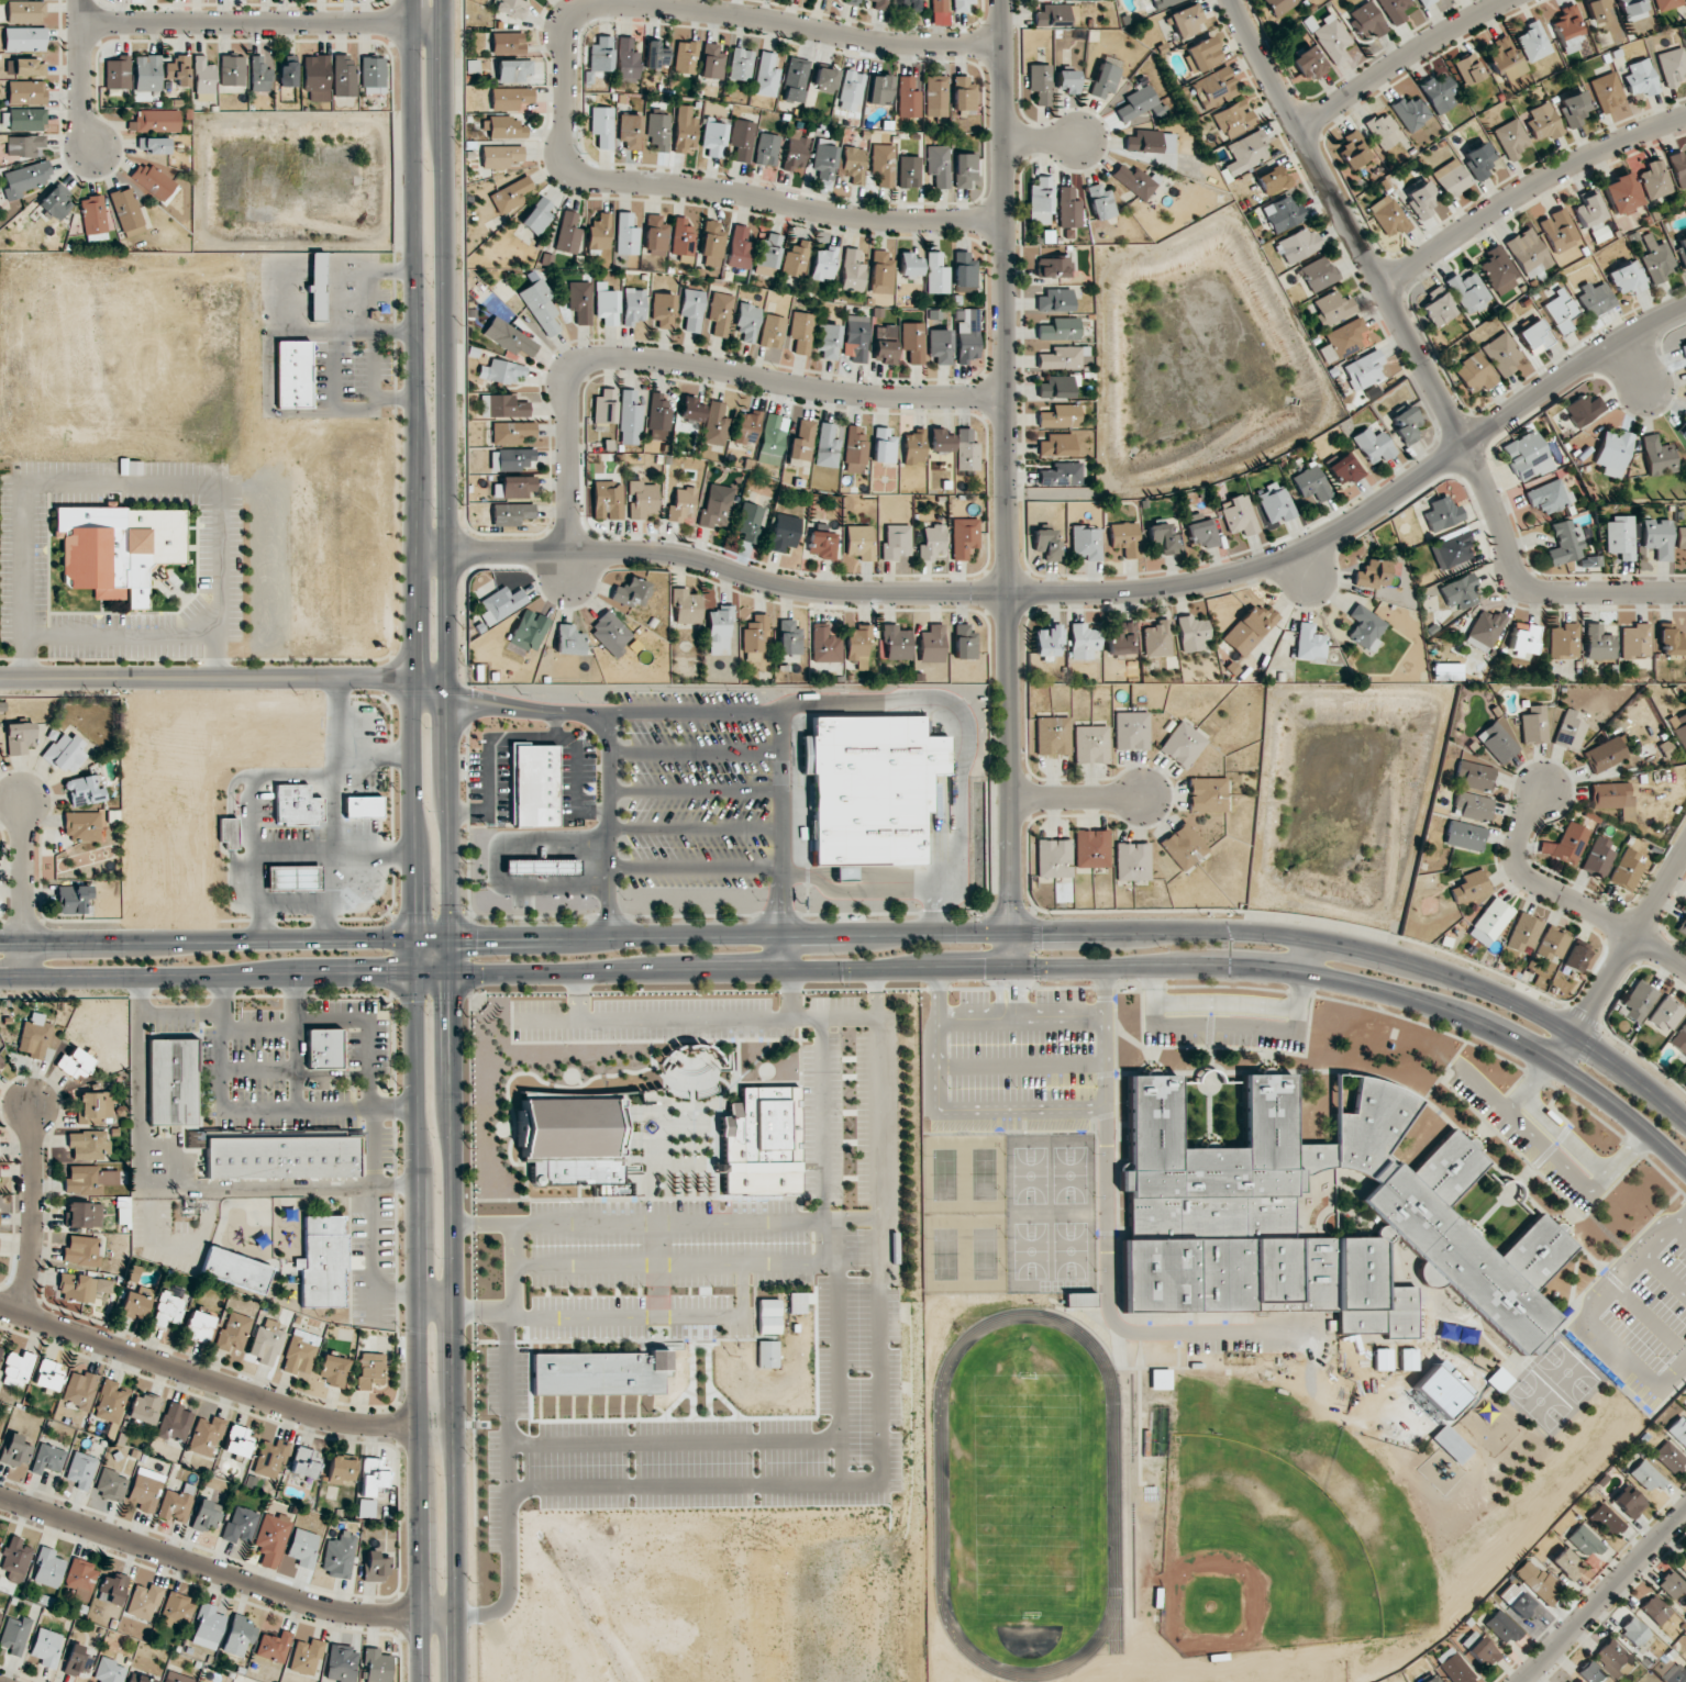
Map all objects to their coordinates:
building: (851, 2)
building: (1426, 2)
building: (1163, 3)
building: (880, 4)
building: (962, 4)
building: (1666, 4)
building: (908, 5)
building: (939, 5)
building: (1278, 5)
building: (511, 7)
building: (1395, 9)
building: (1597, 10)
building: (1632, 10)
building: (25, 11)
building: (1056, 15)
building: (1185, 20)
building: (1367, 20)
road: (262, 23)
building: (1566, 27)
building: (25, 38)
building: (1332, 38)
building: (1533, 42)
building: (508, 43)
building: (600, 54)
building: (1202, 54)
building: (655, 55)
building: (686, 57)
building: (1505, 58)
building: (628, 60)
building: (711, 62)
road: (1405, 63)
building: (1309, 64)
building: (741, 65)
building: (1672, 66)
building: (29, 67)
building: (178, 69)
building: (1468, 69)
building: (232, 70)
building: (512, 70)
building: (118, 71)
building: (288, 71)
building: (147, 73)
building: (259, 75)
building: (343, 75)
building: (373, 75)
building: (766, 76)
building: (315, 77)
road: (80, 78)
building: (1641, 78)
building: (203, 79)
building: (824, 79)
building: (796, 80)
building: (1067, 80)
building: (1103, 80)
building: (1040, 83)
building: (1216, 88)
building: (851, 90)
building: (879, 90)
building: (1607, 91)
building: (26, 92)
road: (567, 93)
building: (1439, 93)
building: (935, 96)
building: (510, 98)
building: (908, 98)
building: (1139, 103)
building: (1574, 109)
building: (1411, 112)
building: (1233, 118)
building: (26, 119)
building: (155, 121)
building: (1542, 122)
building: (602, 125)
building: (503, 127)
building: (685, 129)
building: (658, 131)
building: (1382, 131)
building: (631, 132)
building: (714, 138)
building: (742, 140)
building: (1510, 140)
road: (1042, 141)
building: (1143, 141)
building: (24, 145)
building: (153, 145)
building: (767, 149)
building: (1353, 149)
building: (796, 151)
building: (1246, 152)
building: (500, 156)
building: (825, 159)
building: (1478, 159)
building: (883, 164)
building: (854, 165)
building: (938, 165)
building: (1678, 168)
building: (964, 170)
building: (909, 171)
building: (1451, 178)
building: (25, 179)
building: (1272, 179)
building: (1654, 179)
building: (154, 181)
building: (1134, 181)
road: (1528, 190)
building: (1621, 193)
building: (510, 194)
building: (1040, 200)
building: (1421, 200)
building: (56, 201)
building: (1100, 201)
building: (1068, 208)
building: (127, 212)
building: (93, 214)
building: (1284, 214)
building: (537, 215)
building: (1387, 216)
building: (1590, 216)
building: (1557, 230)
building: (599, 232)
building: (567, 233)
building: (626, 234)
building: (655, 235)
building: (683, 237)
building: (712, 244)
building: (1298, 245)
building: (739, 248)
building: (1682, 249)
building: (769, 253)
building: (1528, 253)
building: (796, 259)
building: (1656, 260)
building: (824, 264)
building: (909, 266)
building: (1053, 267)
building: (852, 270)
building: (964, 270)
building: (1498, 270)
building: (880, 272)
building: (936, 274)
building: (1319, 274)
building: (1626, 278)
building: (317, 286)
building: (1468, 291)
building: (1595, 299)
building: (1054, 300)
building: (580, 301)
building: (607, 304)
building: (541, 305)
building: (633, 305)
building: (1437, 307)
building: (1332, 308)
building: (691, 309)
building: (662, 311)
building: (1562, 311)
building: (720, 313)
building: (747, 321)
building: (1058, 330)
building: (773, 331)
building: (801, 332)
building: (967, 335)
building: (1534, 336)
building: (509, 337)
building: (856, 337)
building: (1345, 337)
building: (828, 341)
building: (913, 342)
building: (885, 344)
building: (940, 346)
building: (1684, 349)
building: (1501, 354)
building: (1061, 357)
road: (1423, 363)
road: (684, 364)
road: (1635, 364)
building: (1364, 370)
building: (502, 371)
building: (292, 374)
building: (1474, 374)
building: (1057, 386)
building: (504, 406)
building: (604, 406)
building: (690, 410)
building: (1583, 410)
building: (1060, 416)
building: (658, 417)
building: (630, 419)
building: (714, 424)
building: (1407, 425)
building: (746, 426)
building: (1683, 430)
building: (512, 432)
building: (772, 439)
building: (941, 441)
building: (801, 442)
building: (1056, 445)
building: (1373, 445)
building: (827, 446)
building: (884, 446)
building: (913, 447)
building: (855, 450)
building: (966, 450)
building: (1612, 453)
building: (1527, 456)
building: (1657, 456)
building: (512, 459)
road: (415, 469)
building: (1345, 470)
building: (1061, 475)
road: (121, 483)
road: (1008, 483)
building: (1310, 483)
road: (446, 487)
building: (513, 487)
building: (1550, 495)
building: (608, 500)
building: (642, 500)
building: (1276, 503)
building: (681, 505)
building: (714, 510)
building: (511, 513)
building: (1442, 514)
building: (1239, 515)
building: (750, 522)
building: (1201, 531)
building: (784, 532)
building: (964, 537)
building: (1162, 537)
building: (1620, 537)
building: (1124, 538)
building: (1681, 538)
building: (896, 541)
building: (858, 542)
building: (932, 543)
building: (1045, 543)
building: (1086, 543)
building: (1565, 543)
building: (822, 544)
building: (118, 548)
building: (1451, 548)
building: (1594, 561)
road: (1301, 572)
building: (1461, 591)
building: (631, 592)
road: (1086, 592)
building: (500, 604)
building: (686, 606)
building: (1365, 627)
building: (1250, 630)
building: (1485, 630)
building: (529, 631)
building: (719, 631)
building: (611, 633)
building: (1191, 633)
building: (755, 634)
road: (118, 636)
building: (789, 637)
building: (1121, 638)
building: (1156, 638)
building: (1523, 638)
building: (568, 641)
building: (1046, 641)
building: (1083, 641)
building: (1564, 641)
building: (1670, 641)
building: (964, 642)
building: (1635, 642)
building: (858, 643)
building: (896, 643)
building: (1598, 643)
building: (824, 644)
building: (931, 644)
building: (1309, 644)
building: (1477, 668)
road: (223, 678)
road: (878, 702)
building: (1533, 724)
road: (555, 726)
building: (1569, 729)
building: (1679, 729)
building: (1131, 731)
building: (1052, 736)
building: (19, 737)
road: (542, 739)
building: (1497, 742)
building: (1090, 744)
building: (1182, 745)
building: (65, 753)
road: (694, 753)
building: (1605, 754)
road: (375, 756)
building: (1473, 776)
building: (534, 786)
building: (870, 788)
building: (84, 791)
road: (695, 792)
building: (1207, 794)
building: (1612, 797)
road: (1077, 798)
building: (297, 805)
building: (1473, 805)
building: (363, 806)
road: (332, 809)
road: (470, 811)
road: (230, 820)
road: (254, 821)
road: (780, 823)
road: (609, 825)
building: (86, 826)
road: (695, 828)
building: (229, 833)
building: (1464, 835)
building: (1567, 844)
building: (1184, 846)
road: (292, 848)
building: (1091, 848)
road: (373, 856)
building: (1597, 857)
building: (1054, 858)
building: (1132, 861)
road: (499, 866)
building: (541, 866)
road: (695, 867)
building: (1626, 870)
building: (845, 873)
road: (862, 873)
building: (293, 877)
building: (1471, 885)
road: (24, 889)
building: (74, 899)
road: (1567, 899)
road: (291, 903)
traffic signals: (415, 909)
road: (933, 912)
building: (1493, 918)
building: (1682, 926)
building: (1523, 933)
road: (1075, 935)
traffic signals: (478, 938)
road: (207, 940)
building: (1552, 943)
road: (1630, 945)
road: (787, 951)
building: (1575, 955)
road: (1309, 957)
road: (1009, 967)
road: (1096, 967)
traffic signals: (381, 974)
road: (224, 976)
road: (789, 993)
road: (577, 996)
building: (1637, 1001)
road: (1228, 1002)
traffic signals: (451, 1005)
road: (179, 1014)
building: (1666, 1014)
road: (1020, 1016)
road: (696, 1018)
road: (1227, 1025)
road: (257, 1029)
building: (34, 1036)
building: (1679, 1039)
road: (295, 1041)
parking lot: (1027, 1041)
road: (1562, 1048)
building: (323, 1049)
building: (1, 1061)
building: (76, 1062)
road: (1021, 1063)
road: (258, 1069)
road: (332, 1074)
building: (173, 1081)
road: (1530, 1084)
road: (1483, 1085)
building: (95, 1106)
road: (252, 1107)
road: (950, 1109)
road: (878, 1125)
road: (370, 1134)
road: (1564, 1135)
building: (574, 1143)
building: (762, 1143)
building: (88, 1144)
building: (277, 1154)
road: (175, 1162)
park: (945, 1174)
park: (984, 1174)
park: (1069, 1174)
park: (1030, 1176)
road: (1577, 1179)
building: (88, 1180)
road: (170, 1191)
road: (32, 1207)
building: (84, 1214)
building: (1313, 1217)
road: (666, 1221)
road: (1681, 1232)
road: (1665, 1236)
road: (1105, 1241)
building: (81, 1250)
park: (1071, 1250)
road: (180, 1251)
park: (1031, 1251)
park: (945, 1254)
park: (984, 1254)
road: (1623, 1257)
building: (322, 1261)
road: (789, 1263)
road: (657, 1269)
building: (235, 1270)
road: (1665, 1276)
building: (76, 1288)
road: (1611, 1291)
road: (395, 1295)
road: (435, 1295)
building: (799, 1302)
building: (136, 1303)
building: (167, 1310)
road: (418, 1311)
road: (482, 1312)
building: (768, 1316)
road: (654, 1317)
road: (1646, 1317)
building: (199, 1326)
road: (512, 1326)
road: (454, 1327)
building: (234, 1333)
building: (266, 1344)
building: (0, 1350)
building: (300, 1352)
building: (767, 1354)
building: (1382, 1359)
building: (1408, 1359)
road: (1637, 1366)
building: (18, 1369)
building: (370, 1369)
building: (333, 1370)
building: (599, 1372)
park: (1567, 1372)
building: (48, 1374)
building: (1161, 1379)
road: (206, 1380)
building: (80, 1390)
park: (1540, 1401)
building: (110, 1402)
building: (144, 1407)
building: (175, 1423)
building: (0, 1426)
building: (1678, 1430)
building: (206, 1436)
building: (237, 1440)
building: (1451, 1444)
building: (14, 1450)
building: (1668, 1457)
building: (270, 1458)
building: (47, 1459)
building: (304, 1462)
building: (80, 1469)
building: (340, 1470)
building: (1646, 1475)
building: (374, 1477)
building: (110, 1484)
building: (145, 1489)
track: (1113, 1497)
building: (1627, 1503)
building: (366, 1507)
building: (206, 1516)
building: (1606, 1519)
building: (240, 1524)
building: (0, 1534)
building: (271, 1538)
building: (1584, 1541)
building: (302, 1548)
building: (339, 1555)
park: (1255, 1555)
building: (15, 1559)
building: (1564, 1563)
building: (1683, 1563)
building: (375, 1567)
building: (47, 1568)
road: (224, 1575)
building: (81, 1579)
building: (1537, 1581)
building: (1671, 1584)
building: (112, 1588)
road: (1602, 1595)
building: (143, 1601)
building: (1522, 1605)
building: (177, 1607)
building: (1654, 1609)
building: (0, 1615)
building: (208, 1627)
building: (1504, 1627)
building: (1633, 1631)
building: (14, 1634)
building: (239, 1636)
building: (274, 1646)
building: (46, 1647)
building: (1479, 1649)
building: (1685, 1653)
building: (306, 1657)
building: (1613, 1658)
building: (76, 1660)
building: (342, 1663)
building: (377, 1666)
building: (1453, 1667)
building: (109, 1671)
building: (1591, 1673)
building: (1677, 1673)
building: (177, 1678)
building: (140, 1679)
building: (1431, 1679)
building: (1568, 1681)

